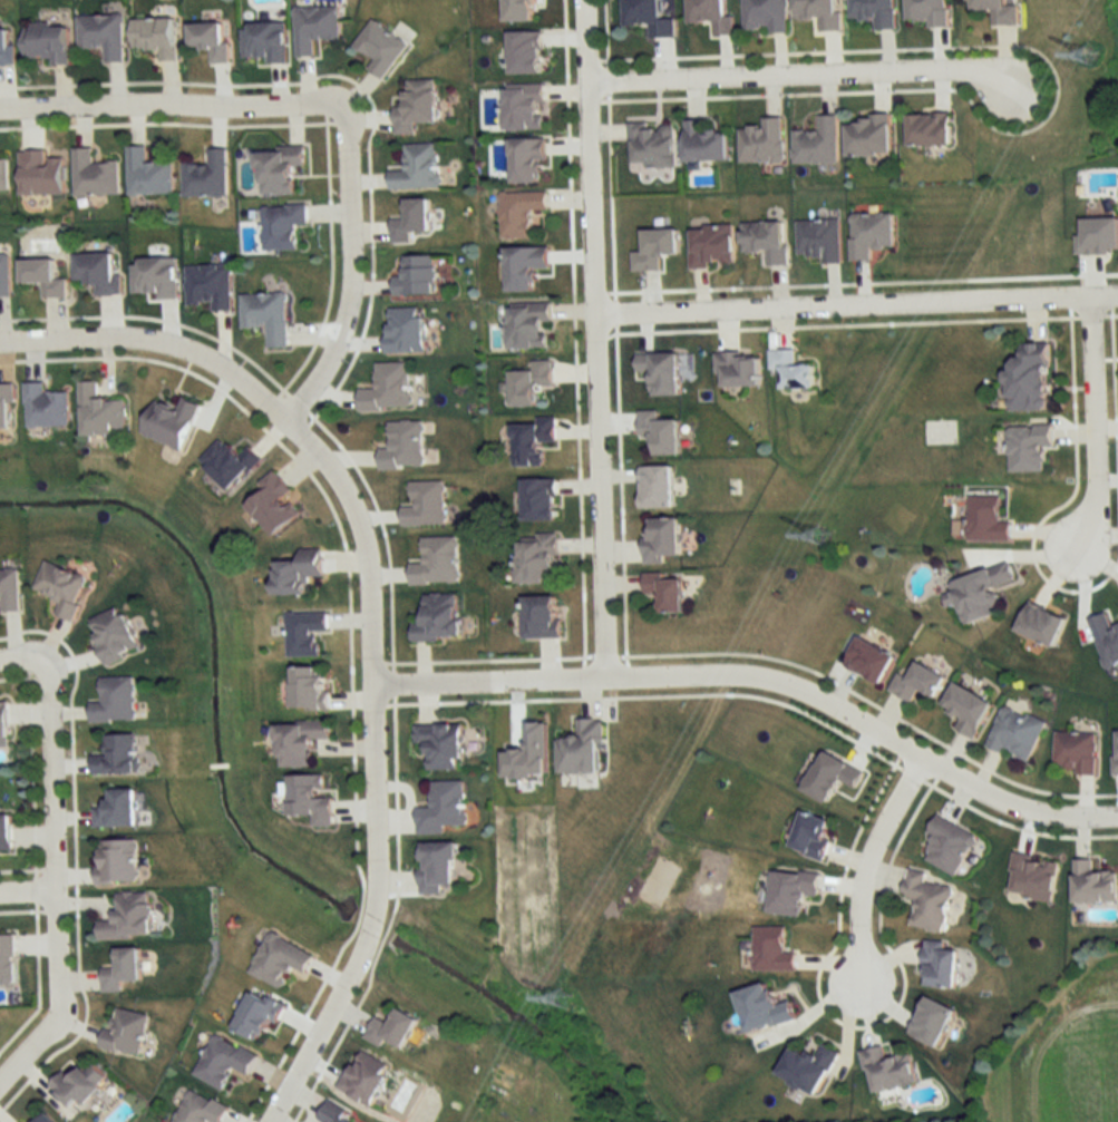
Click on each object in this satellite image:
building: (519, 10)
building: (927, 11)
building: (998, 11)
building: (820, 12)
building: (875, 12)
building: (711, 14)
building: (765, 16)
building: (648, 17)
building: (313, 28)
building: (101, 35)
building: (155, 36)
building: (208, 40)
building: (263, 42)
building: (46, 43)
building: (379, 48)
building: (6, 49)
building: (524, 51)
power tower: (1091, 55)
road: (797, 77)
road: (166, 105)
building: (416, 105)
building: (523, 106)
building: (929, 129)
building: (868, 136)
building: (762, 140)
building: (704, 142)
building: (817, 142)
building: (651, 145)
building: (527, 160)
building: (416, 167)
building: (276, 169)
building: (40, 173)
building: (147, 173)
building: (94, 174)
building: (205, 175)
building: (3, 176)
building: (519, 212)
building: (410, 221)
building: (281, 225)
building: (871, 233)
building: (819, 240)
building: (766, 241)
building: (711, 245)
road: (349, 267)
building: (524, 267)
building: (98, 273)
building: (6, 275)
building: (43, 276)
building: (417, 276)
building: (154, 279)
building: (208, 286)
road: (856, 304)
building: (266, 316)
building: (528, 326)
building: (404, 331)
road: (595, 338)
road: (153, 339)
building: (738, 369)
building: (791, 370)
building: (659, 372)
building: (1029, 380)
building: (529, 383)
building: (387, 389)
building: (7, 406)
building: (47, 407)
building: (101, 413)
building: (172, 423)
road: (1098, 426)
building: (659, 433)
building: (531, 441)
building: (404, 447)
building: (1029, 448)
building: (230, 462)
building: (655, 487)
building: (538, 499)
building: (273, 504)
building: (426, 505)
building: (986, 519)
power tower: (819, 534)
building: (660, 539)
building: (535, 558)
building: (437, 562)
building: (299, 573)
building: (61, 588)
building: (9, 591)
building: (664, 591)
building: (979, 592)
building: (541, 617)
building: (438, 618)
building: (1041, 624)
building: (305, 633)
building: (114, 634)
building: (1106, 638)
building: (868, 660)
road: (21, 662)
road: (765, 675)
building: (916, 683)
building: (310, 689)
building: (115, 700)
building: (966, 709)
building: (2, 725)
building: (1014, 733)
building: (300, 742)
building: (440, 744)
building: (582, 750)
building: (1076, 752)
building: (1115, 752)
building: (116, 755)
road: (377, 770)
building: (310, 800)
building: (444, 808)
building: (116, 810)
building: (4, 833)
building: (811, 836)
building: (947, 847)
building: (117, 861)
building: (438, 867)
road: (864, 872)
building: (1032, 878)
building: (1093, 884)
road: (27, 885)
road: (54, 885)
building: (790, 892)
building: (926, 901)
building: (128, 917)
building: (771, 950)
building: (7, 959)
building: (280, 960)
building: (941, 964)
building: (121, 970)
power tower: (563, 999)
building: (762, 1008)
building: (257, 1015)
building: (932, 1022)
building: (393, 1031)
building: (125, 1033)
crop: (1073, 1057)
building: (223, 1062)
building: (808, 1069)
building: (887, 1070)
building: (364, 1077)
building: (78, 1085)
building: (200, 1109)
building: (336, 1115)
building: (42, 1118)

